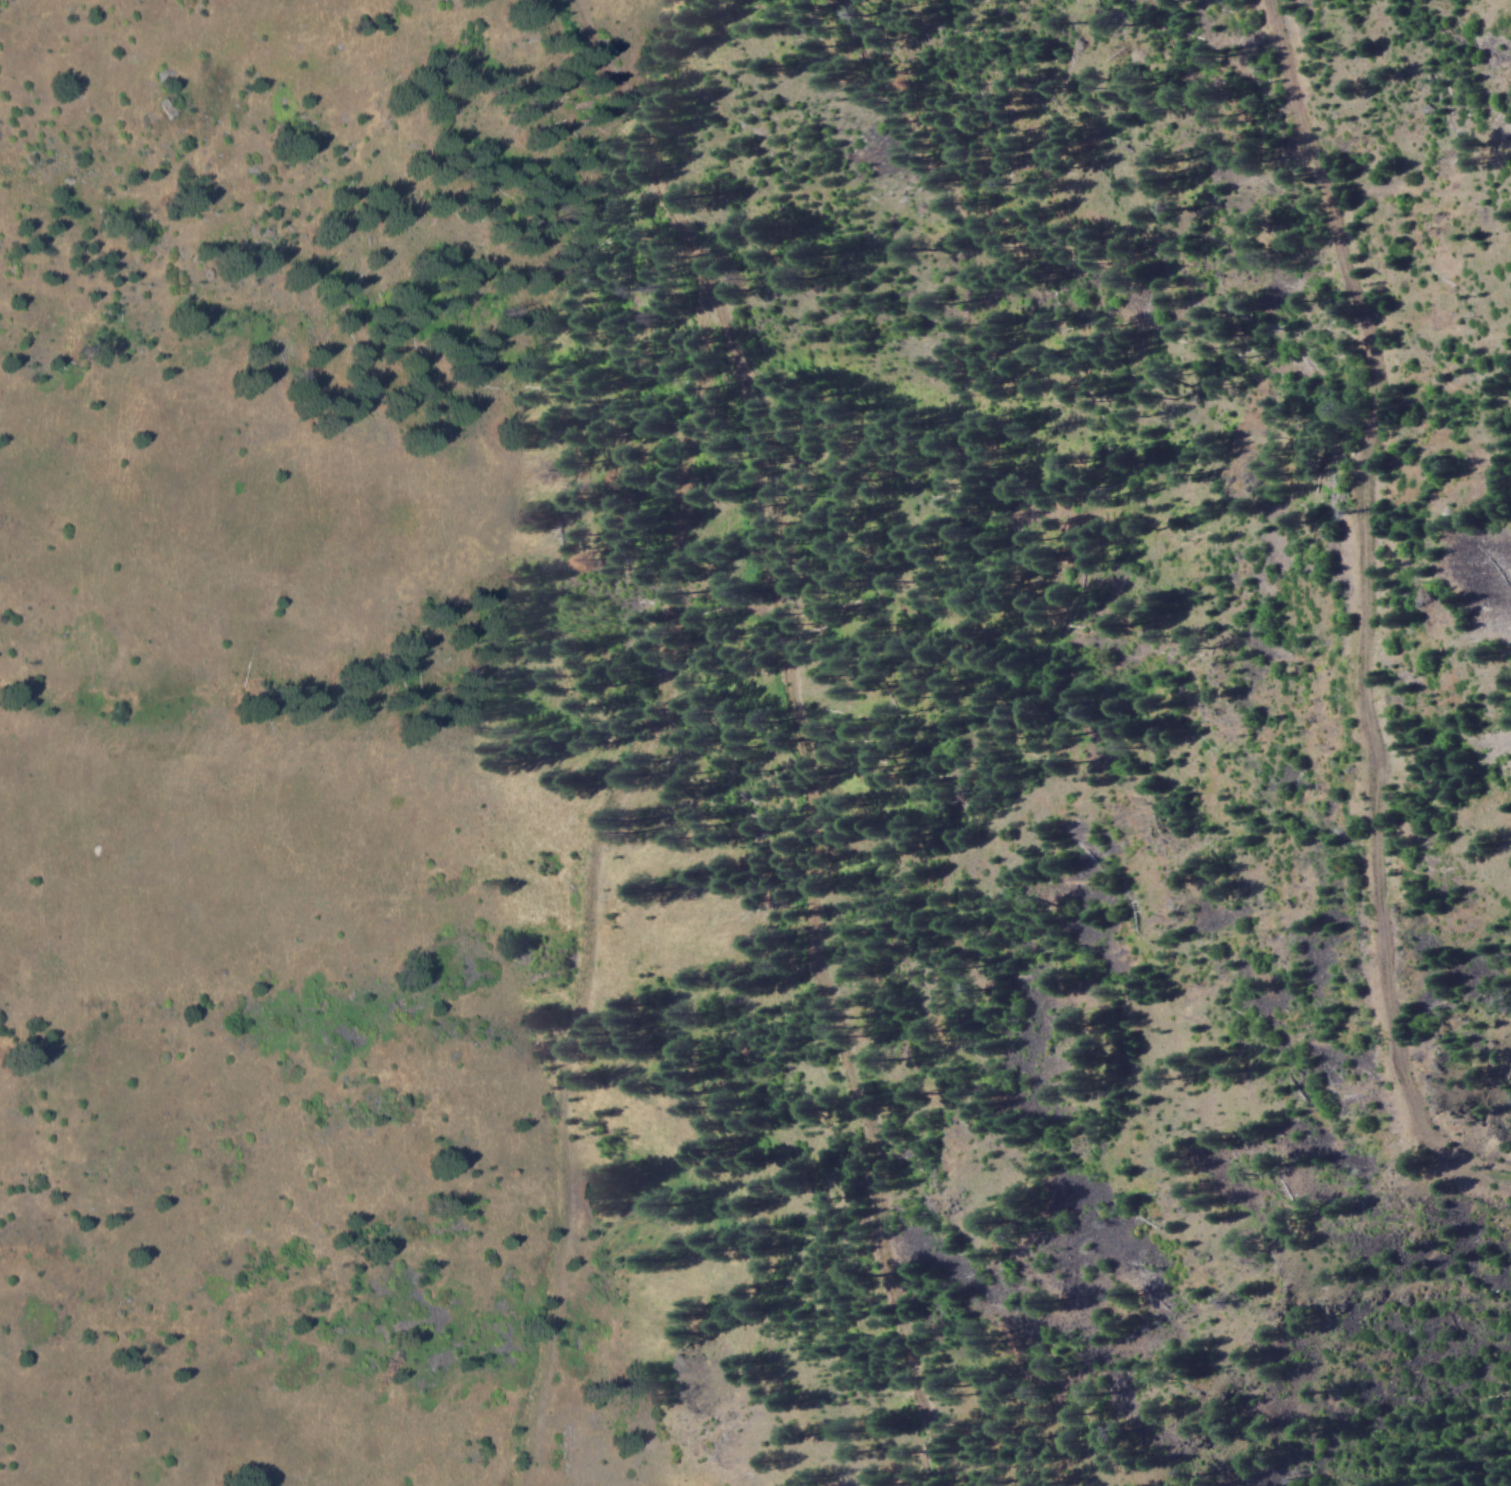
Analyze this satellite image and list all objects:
road: (1341, 615)

